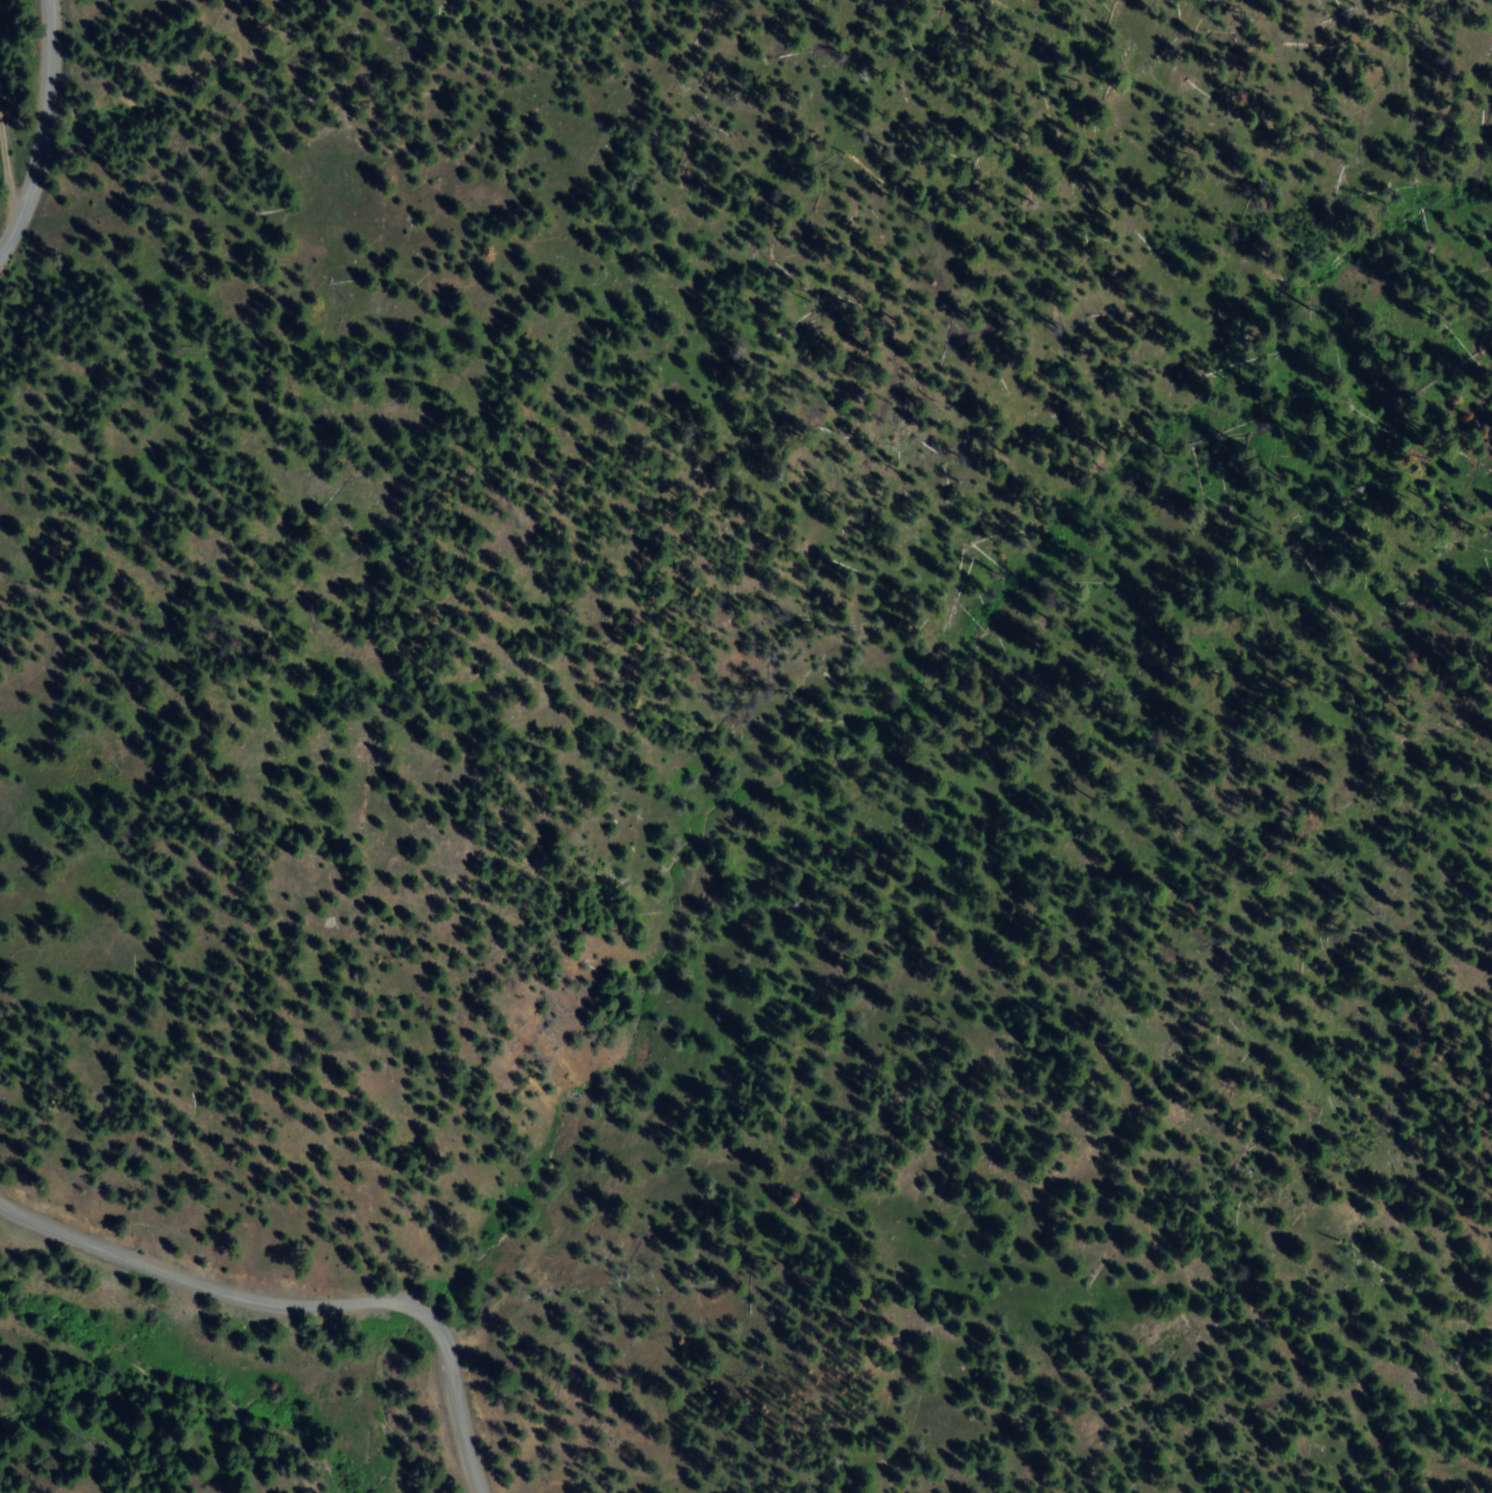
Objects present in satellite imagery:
road: (44, 131)
road: (291, 1310)

